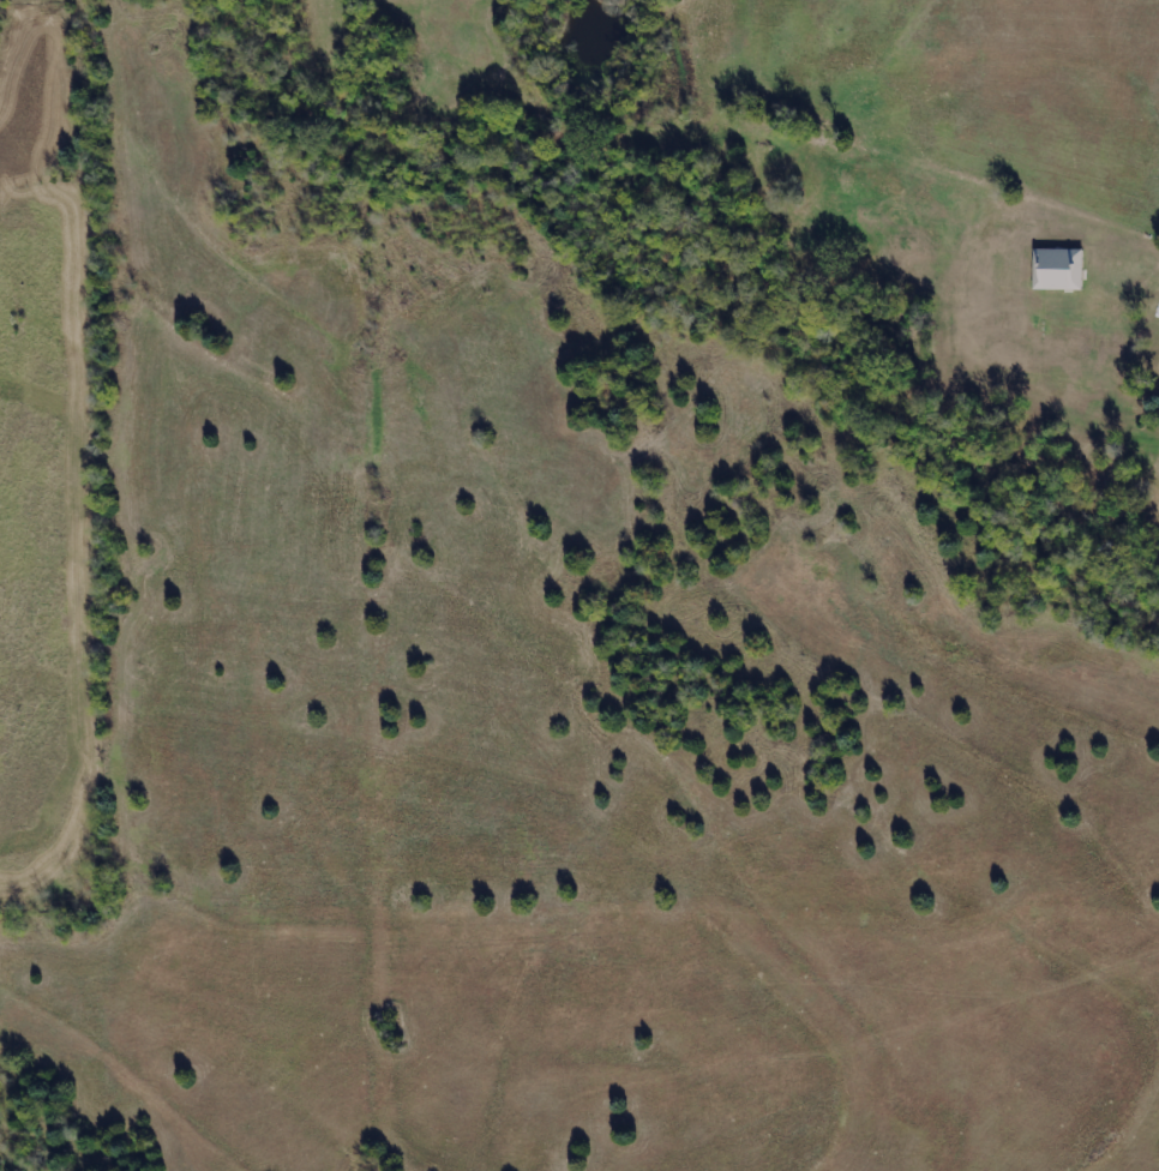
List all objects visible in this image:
building: (1063, 270)

